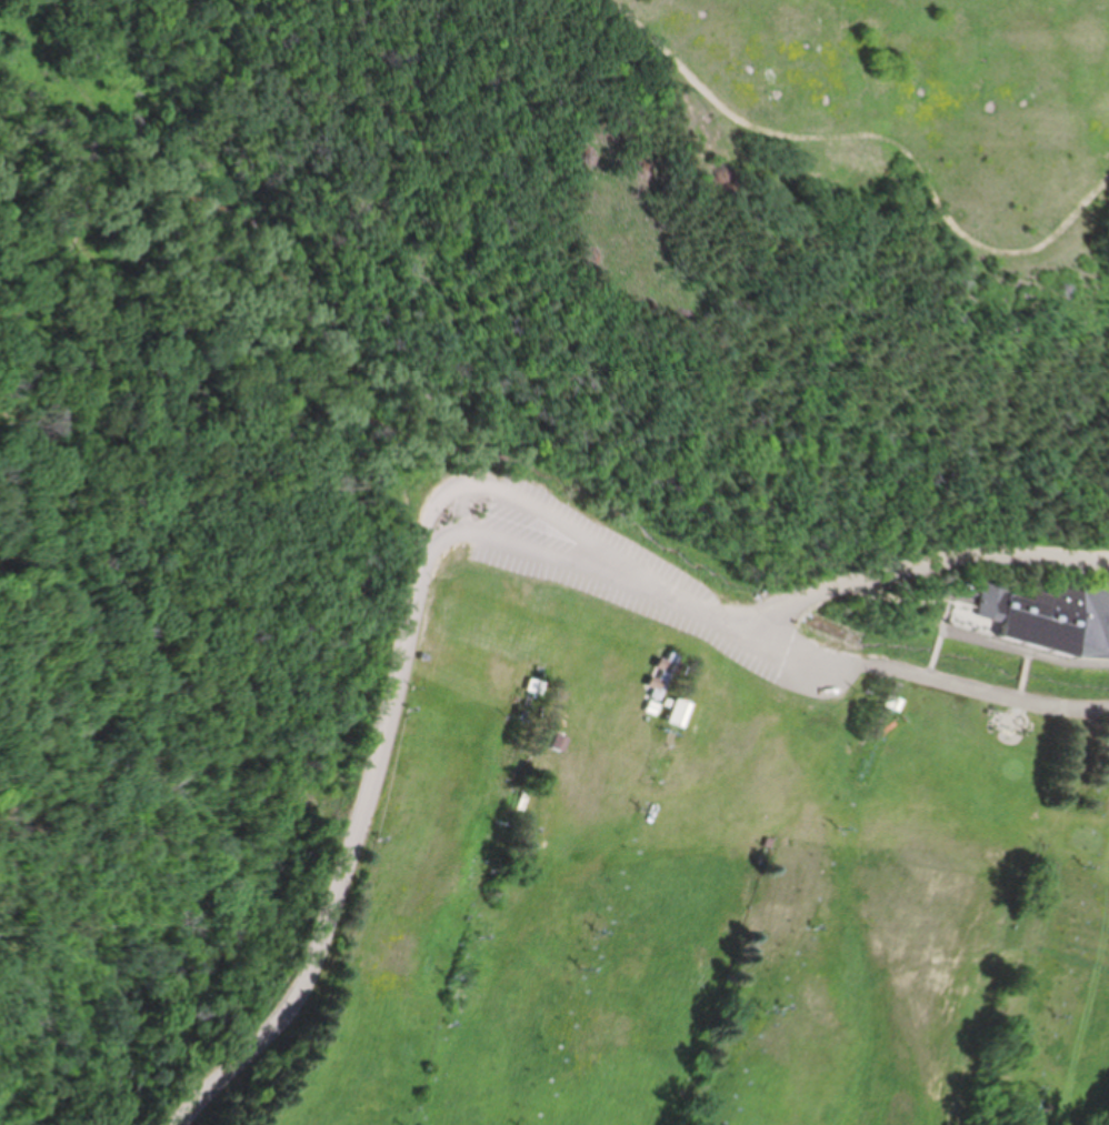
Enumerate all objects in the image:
road: (610, 14)
road: (897, 141)
road: (113, 335)
park: (411, 339)
road: (278, 395)
road: (464, 530)
building: (1051, 616)
road: (932, 683)
building: (675, 713)
aerialway pylon: (521, 721)
aerialway pylon: (641, 808)
aerialway pylon: (840, 828)
aerialway pylon: (1088, 863)
ski resort: (717, 897)
aerialway pylon: (802, 925)
aerialway pylon: (596, 933)
aerialway pylon: (582, 968)
aerialway pylon: (448, 977)
aerialway pylon: (770, 1011)
aerialway pylon: (1059, 1019)
aerialway pylon: (1046, 1086)

